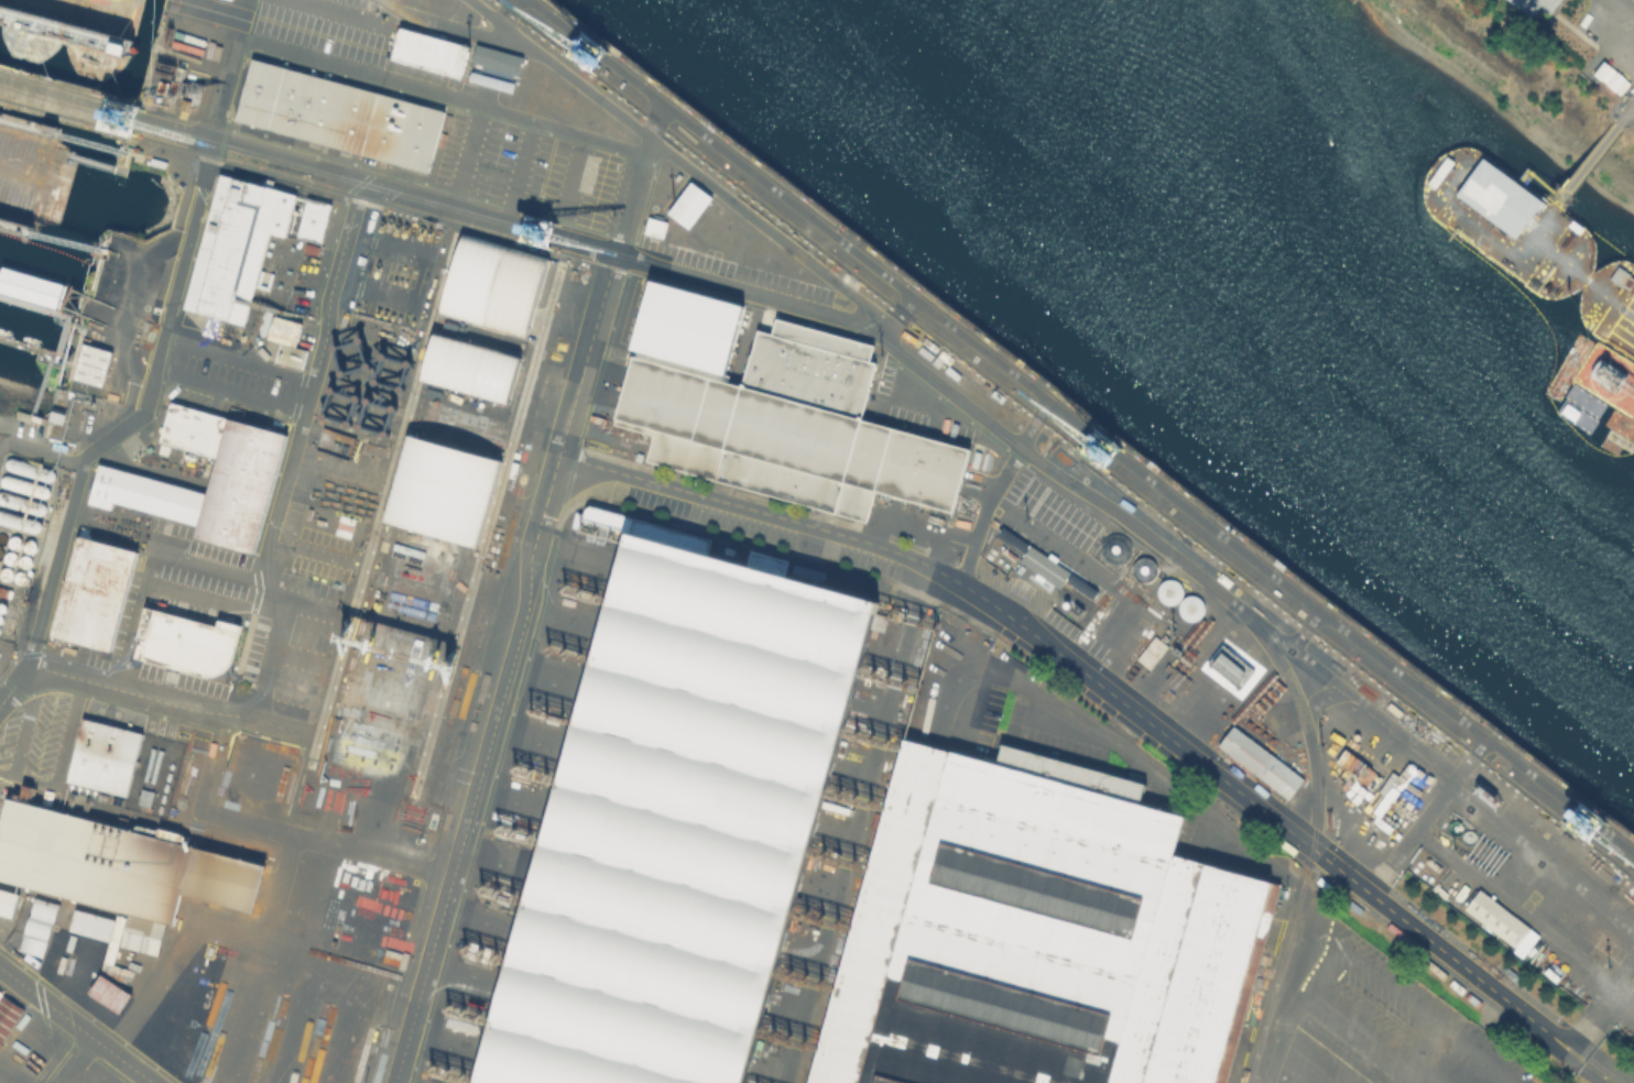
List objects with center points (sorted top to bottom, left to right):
building: (417, 3)
building: (1536, 4)
road: (1623, 8)
road: (399, 13)
building: (427, 51)
road: (494, 67)
road: (440, 95)
pier: (64, 100)
building: (545, 105)
building: (338, 114)
building: (156, 155)
road: (678, 161)
building: (664, 185)
railway: (423, 188)
building: (1499, 196)
building: (687, 203)
railway: (421, 211)
pier: (1514, 216)
building: (653, 225)
building: (722, 228)
building: (243, 241)
building: (1619, 275)
building: (111, 278)
building: (492, 284)
road: (601, 295)
pier: (1610, 305)
building: (282, 329)
road: (156, 344)
railway: (894, 347)
road: (980, 349)
pier: (37, 352)
building: (288, 354)
road: (235, 355)
building: (475, 355)
building: (91, 363)
road: (40, 386)
road: (225, 391)
building: (774, 412)
railway: (1086, 422)
railway: (1067, 436)
road: (288, 452)
building: (241, 475)
building: (1213, 481)
road: (995, 486)
building: (439, 490)
road: (766, 511)
building: (1043, 565)
building: (1143, 568)
building: (1168, 590)
building: (91, 591)
building: (1190, 609)
building: (1122, 626)
building: (184, 639)
road: (1283, 656)
building: (1471, 678)
road: (144, 696)
building: (102, 754)
building: (1259, 762)
road: (469, 767)
building: (1076, 769)
road: (1187, 802)
road: (1265, 813)
road: (1423, 813)
building: (673, 820)
building: (117, 862)
building: (1561, 900)
building: (7, 901)
road: (883, 910)
building: (1500, 921)
building: (90, 923)
building: (36, 926)
building: (113, 936)
building: (1030, 936)
road: (1293, 972)
building: (108, 992)
building: (0, 993)
road: (1598, 995)
building: (8, 1015)
road: (79, 1022)
road: (1365, 1031)
building: (167, 1046)
road: (73, 1058)
road: (1589, 1062)

